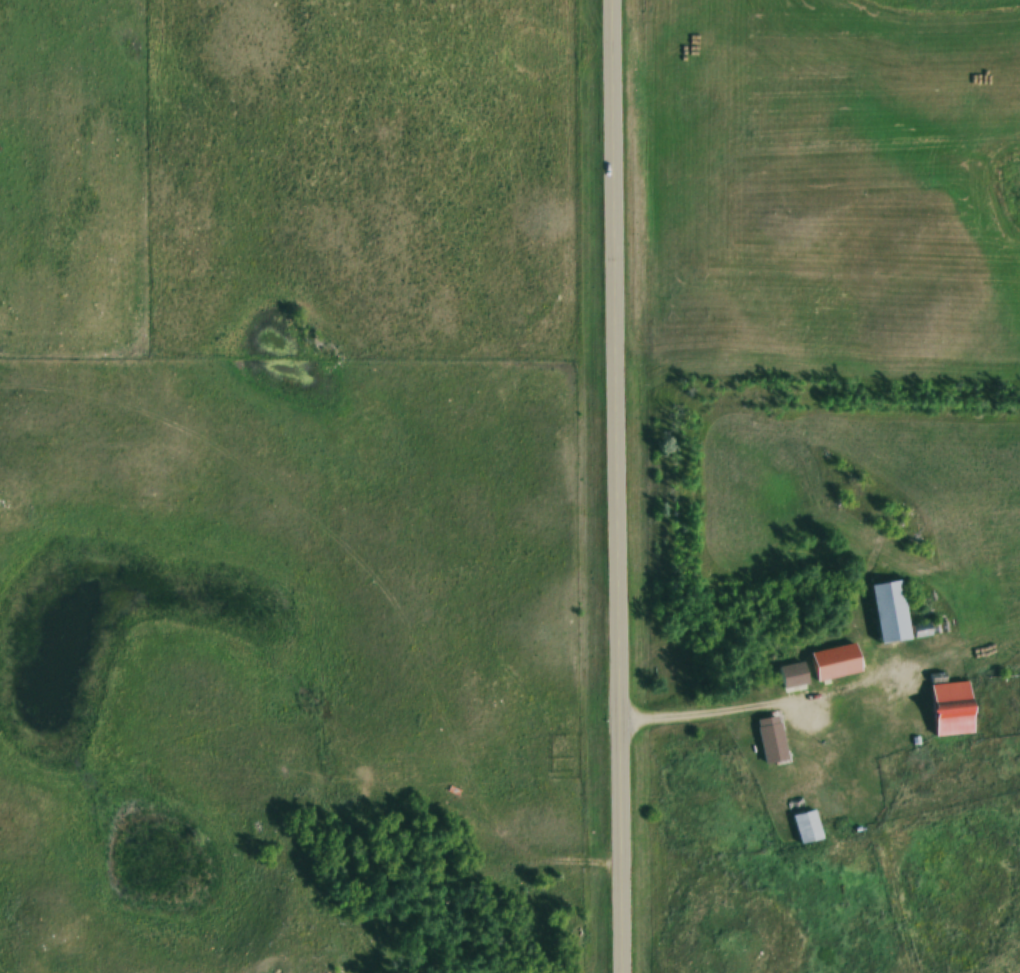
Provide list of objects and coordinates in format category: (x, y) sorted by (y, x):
road: (624, 486)
building: (891, 612)
building: (837, 662)
building: (794, 676)
building: (952, 708)
road: (731, 710)
building: (772, 739)
building: (805, 823)

